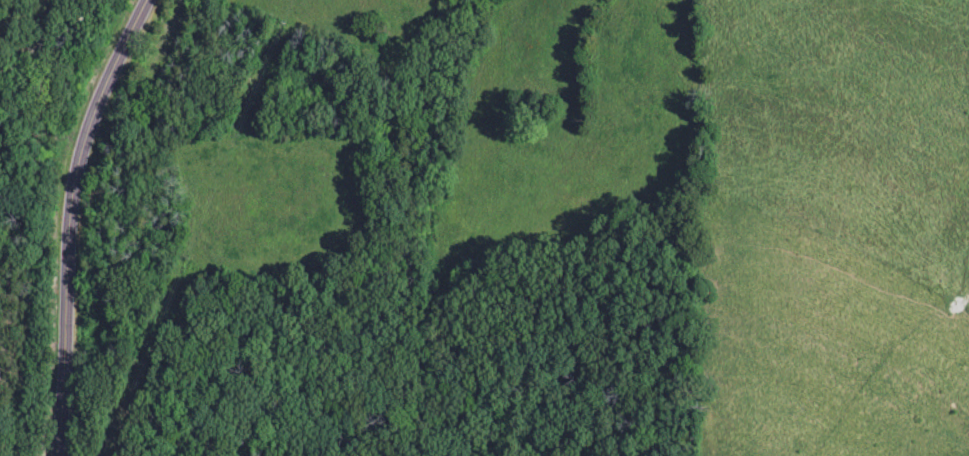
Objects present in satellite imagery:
road: (54, 38)
road: (68, 220)

